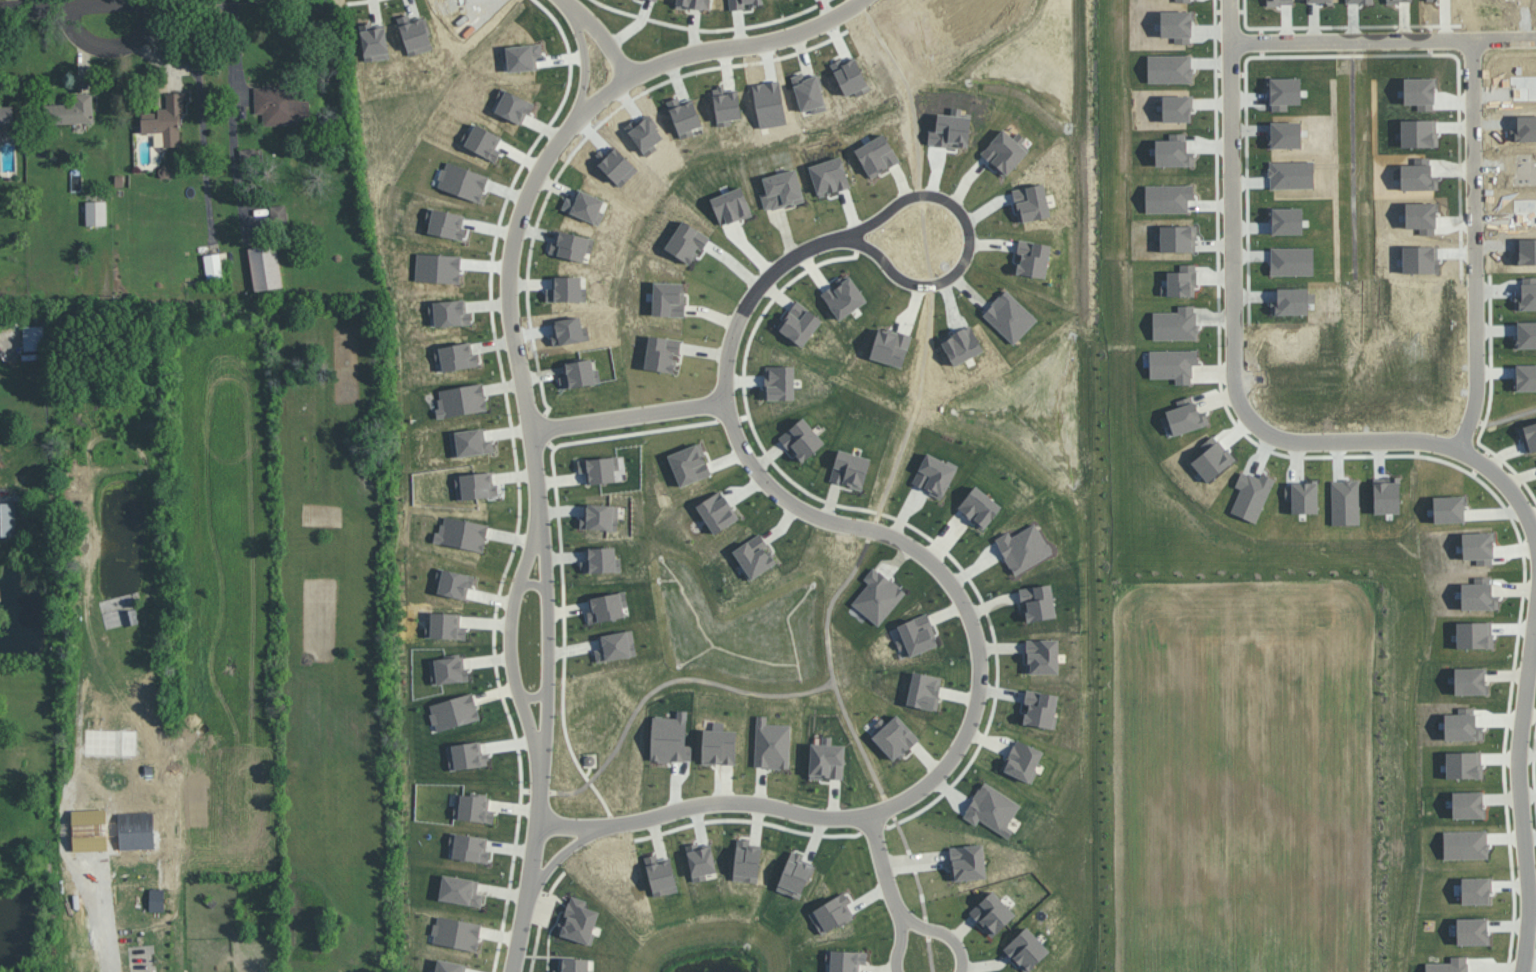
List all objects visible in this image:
road: (71, 5)
road: (596, 37)
road: (1505, 40)
road: (743, 42)
road: (112, 43)
road: (232, 56)
building: (280, 105)
building: (7, 114)
building: (165, 122)
road: (1475, 125)
road: (521, 204)
building: (96, 212)
building: (278, 212)
road: (807, 255)
building: (214, 264)
building: (265, 267)
building: (33, 337)
road: (1235, 381)
road: (533, 446)
building: (599, 468)
building: (849, 469)
road: (897, 491)
building: (979, 506)
building: (7, 518)
road: (572, 557)
building: (601, 560)
road: (532, 583)
building: (608, 605)
building: (130, 616)
building: (445, 626)
road: (508, 636)
road: (548, 637)
road: (698, 681)
building: (924, 690)
road: (534, 697)
building: (454, 711)
building: (771, 744)
building: (718, 746)
road: (955, 751)
building: (1022, 760)
building: (826, 761)
road: (1520, 786)
building: (472, 808)
building: (992, 808)
road: (564, 824)
building: (135, 830)
road: (532, 861)
road: (885, 867)
building: (794, 875)
road: (91, 898)
building: (156, 899)
building: (577, 922)
road: (919, 924)
building: (456, 932)
building: (574, 965)

